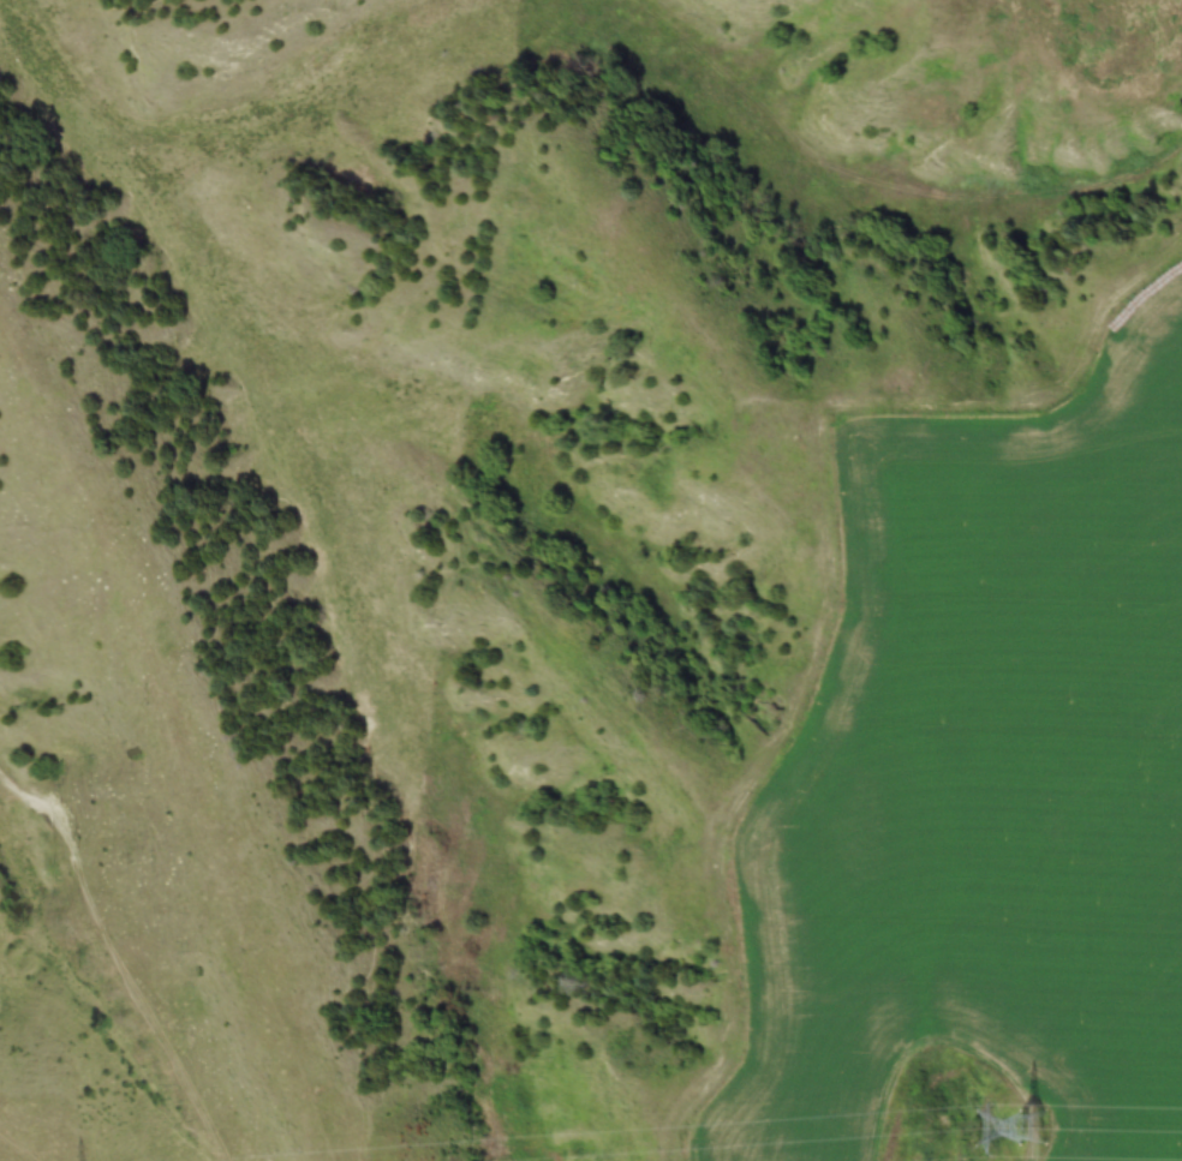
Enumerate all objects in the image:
power tower: (1031, 1129)

